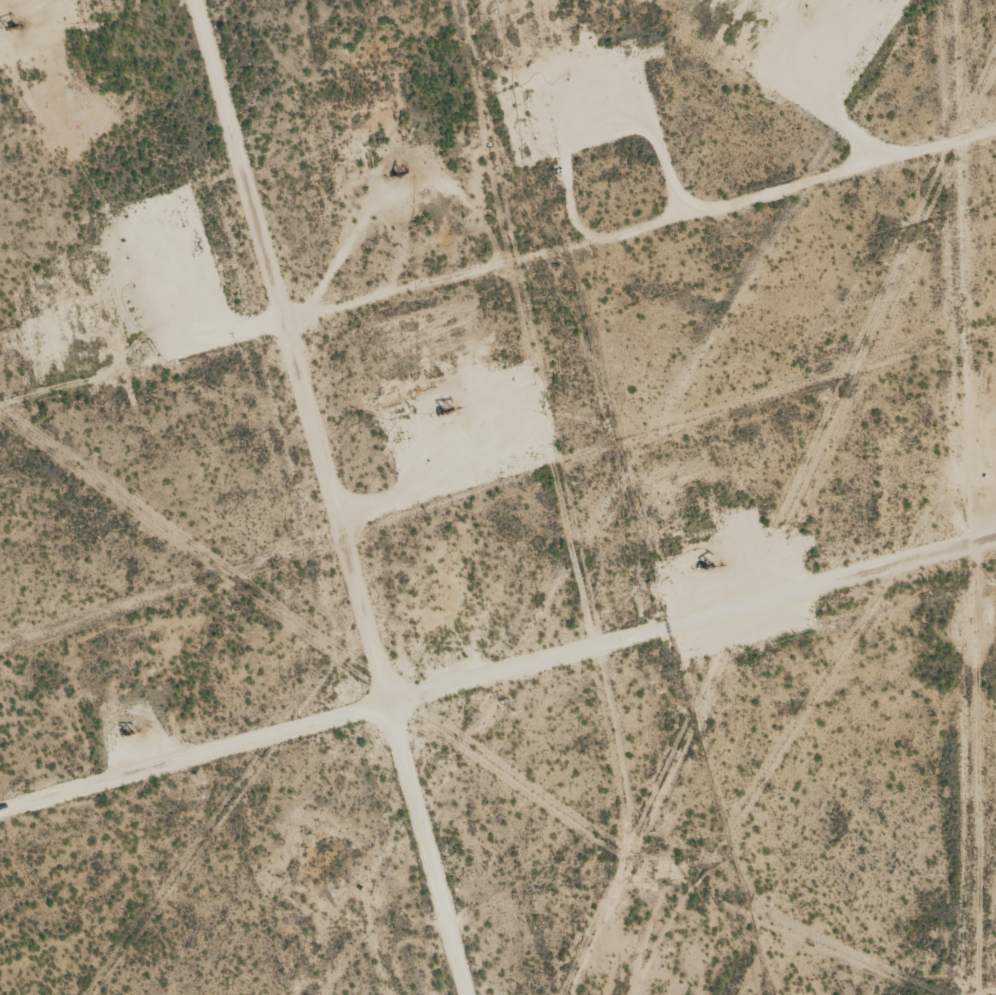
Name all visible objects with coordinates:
road: (336, 497)
road: (497, 705)

